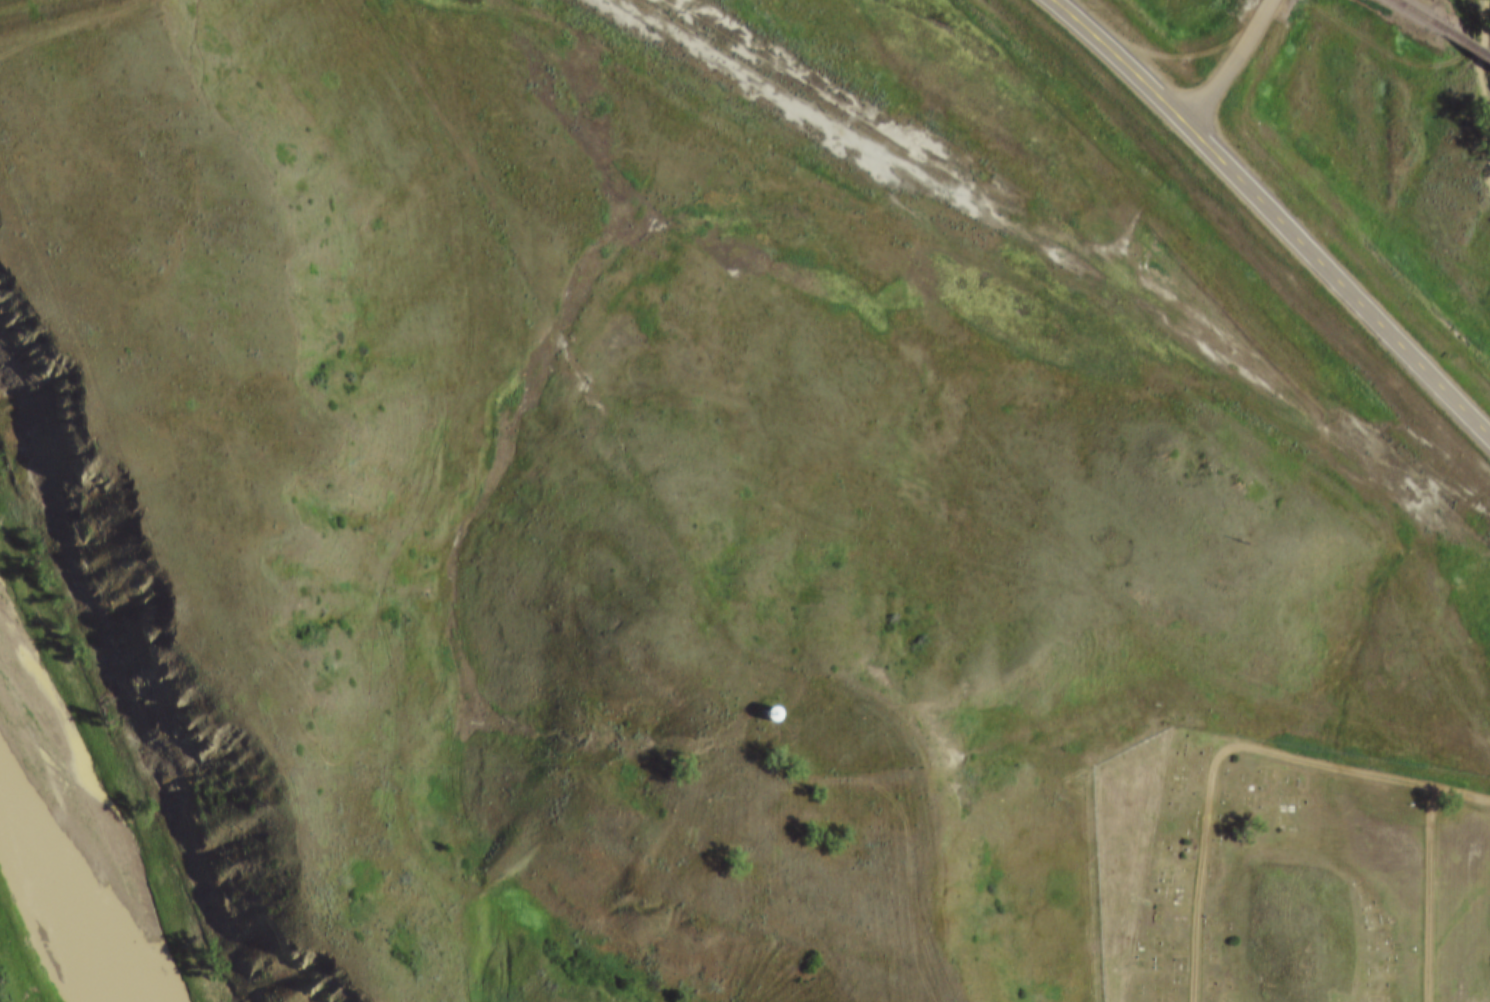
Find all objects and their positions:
railway: (1443, 28)
road: (1228, 63)
road: (1273, 213)
water tower: (761, 701)
road: (1233, 750)
river: (60, 879)
road: (1429, 894)

